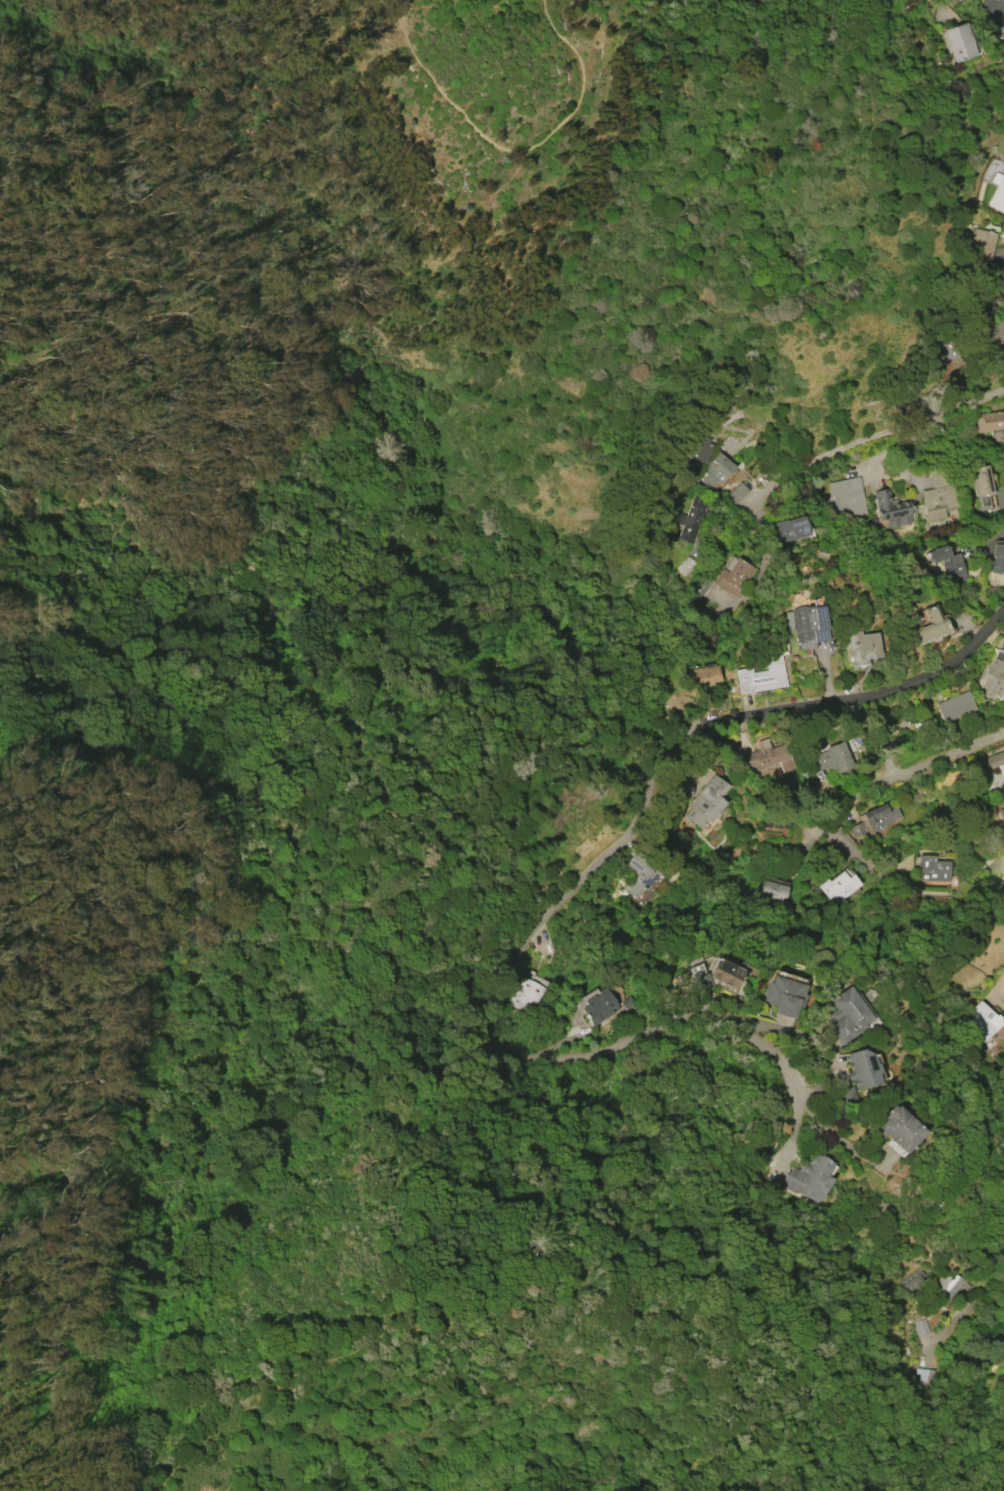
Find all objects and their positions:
building: (994, 12)
building: (960, 41)
road: (501, 149)
building: (997, 195)
building: (980, 245)
road: (997, 272)
building: (995, 335)
building: (950, 354)
building: (991, 424)
building: (701, 448)
road: (849, 449)
building: (719, 467)
building: (981, 485)
building: (736, 494)
building: (847, 496)
building: (939, 496)
building: (891, 509)
building: (691, 518)
building: (790, 529)
road: (986, 537)
building: (997, 558)
building: (949, 563)
building: (736, 577)
building: (809, 625)
building: (933, 627)
building: (862, 647)
building: (702, 676)
building: (761, 677)
building: (992, 679)
road: (861, 697)
building: (954, 706)
building: (768, 756)
building: (832, 758)
building: (994, 760)
road: (926, 767)
building: (1003, 780)
building: (706, 802)
building: (1002, 814)
building: (874, 821)
building: (997, 864)
building: (932, 869)
building: (640, 876)
building: (839, 887)
building: (774, 890)
building: (1002, 965)
building: (720, 976)
building: (786, 995)
building: (527, 996)
road: (999, 1002)
building: (600, 1006)
building: (848, 1016)
building: (984, 1020)
road: (809, 1038)
road: (504, 1047)
building: (862, 1068)
building: (900, 1128)
road: (830, 1129)
building: (810, 1178)
building: (915, 1280)
building: (950, 1284)
building: (922, 1327)
road: (1000, 1330)

